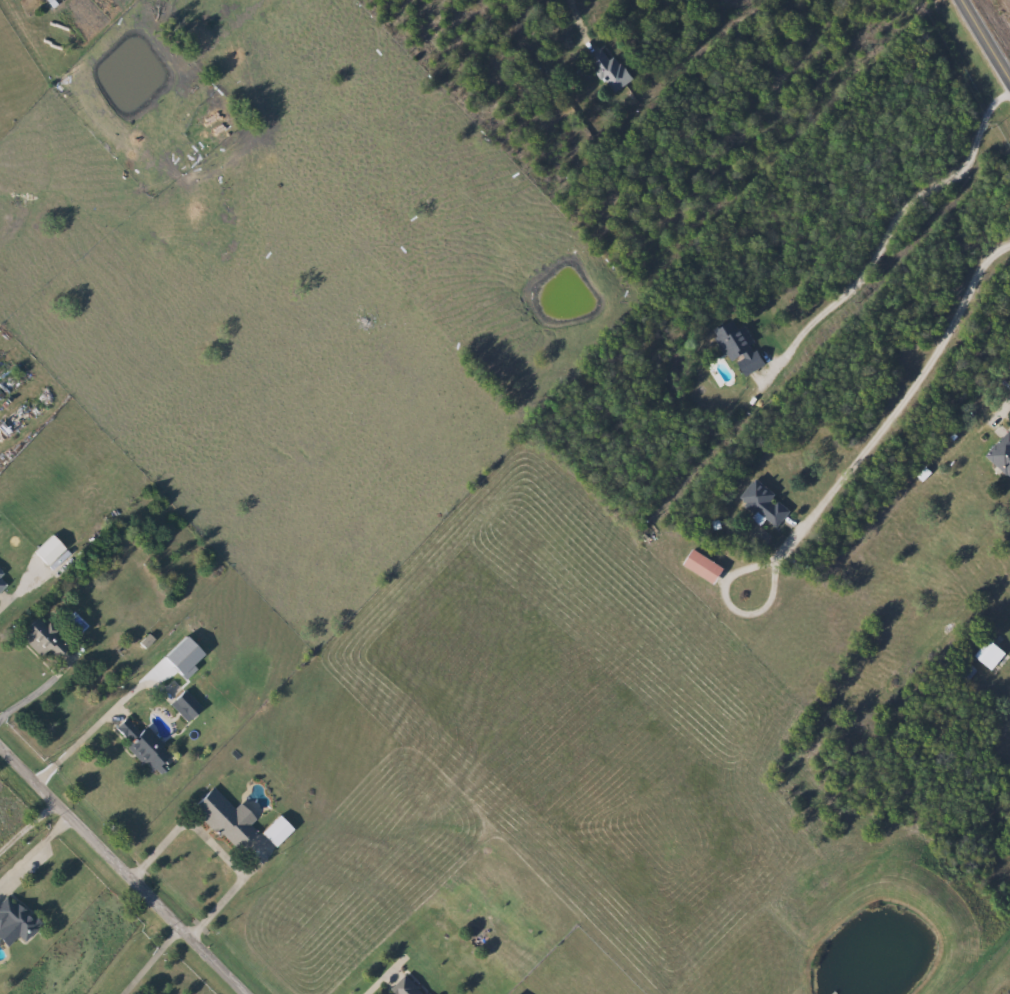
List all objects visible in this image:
road: (578, 22)
road: (984, 39)
building: (608, 69)
road: (886, 236)
building: (738, 348)
road: (1004, 417)
road: (887, 423)
building: (1000, 454)
building: (762, 504)
building: (699, 566)
building: (2, 579)
road: (14, 594)
building: (38, 637)
building: (986, 654)
road: (32, 696)
building: (181, 705)
building: (140, 746)
road: (78, 748)
building: (222, 818)
road: (29, 829)
building: (271, 830)
road: (219, 847)
road: (37, 848)
road: (125, 868)
building: (15, 919)
road: (152, 958)
road: (378, 980)
building: (405, 986)

